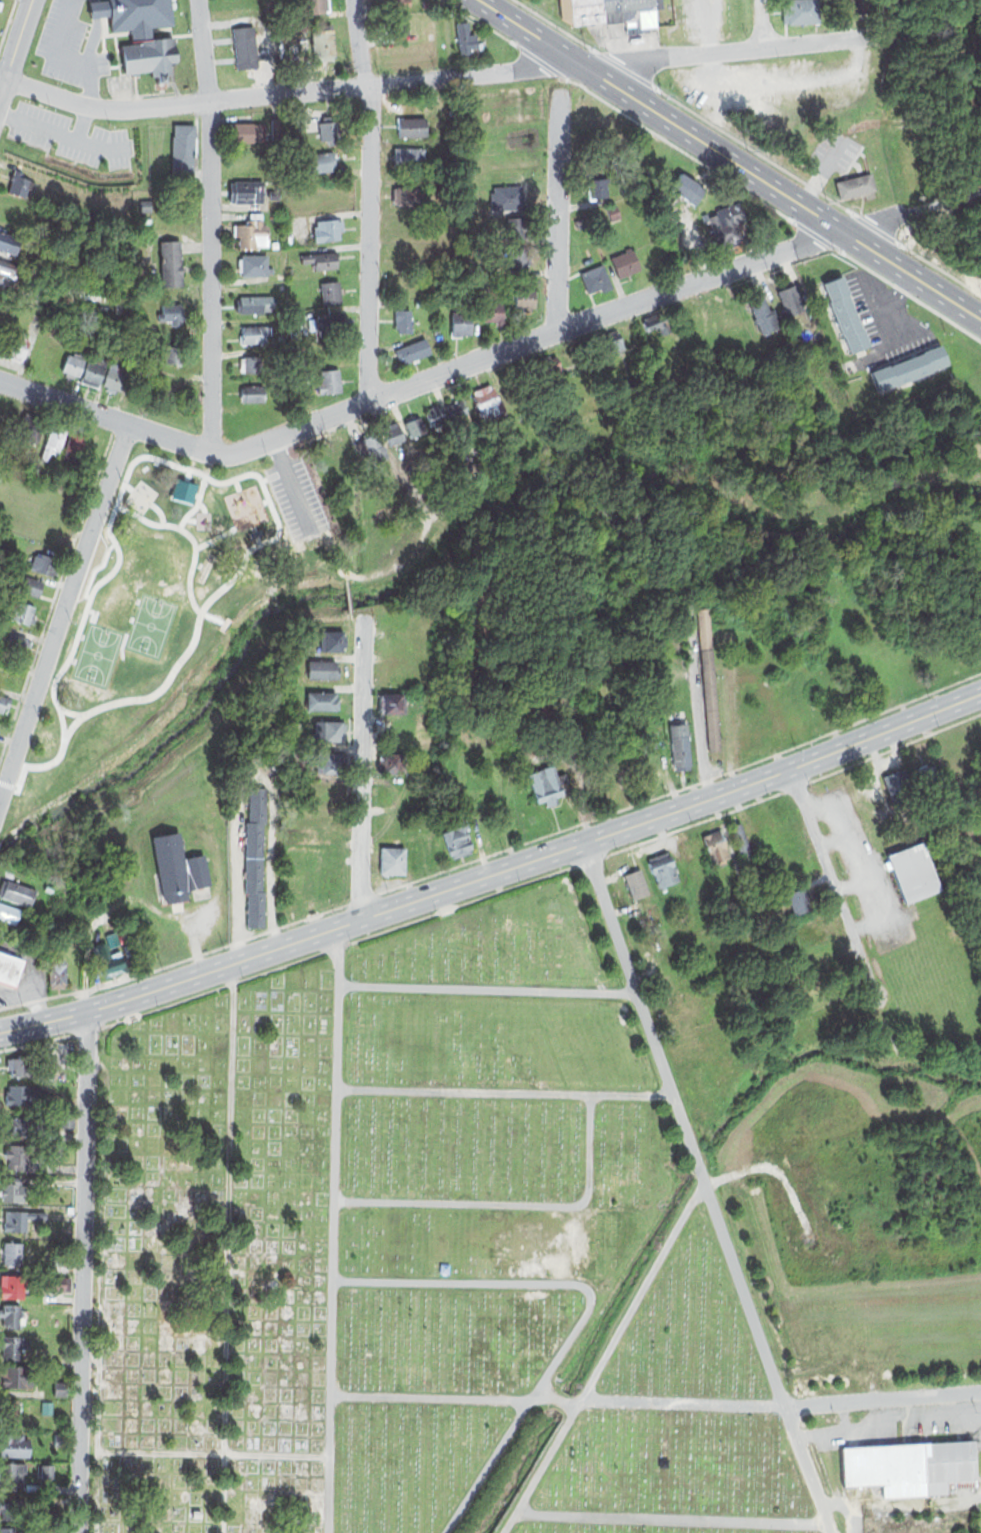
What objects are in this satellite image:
building: (396, 3)
building: (312, 7)
building: (861, 9)
building: (565, 10)
building: (586, 11)
building: (803, 12)
building: (632, 13)
building: (398, 23)
road: (764, 24)
building: (463, 38)
building: (324, 44)
road: (15, 45)
building: (245, 47)
building: (148, 56)
road: (438, 78)
road: (7, 116)
road: (82, 123)
building: (277, 126)
building: (412, 126)
building: (328, 129)
building: (247, 132)
parking lot: (70, 137)
road: (69, 139)
building: (875, 141)
building: (182, 153)
building: (408, 156)
road: (733, 156)
building: (321, 161)
building: (596, 180)
building: (17, 182)
building: (853, 183)
building: (682, 186)
building: (245, 190)
building: (272, 192)
building: (409, 196)
building: (507, 196)
road: (370, 197)
road: (941, 200)
building: (146, 203)
road: (558, 210)
building: (614, 210)
building: (727, 223)
road: (209, 225)
building: (327, 228)
building: (512, 228)
building: (252, 231)
building: (289, 237)
building: (9, 242)
building: (275, 242)
building: (587, 251)
building: (324, 257)
building: (409, 258)
building: (515, 258)
building: (291, 260)
building: (169, 261)
building: (624, 262)
building: (254, 264)
building: (9, 272)
building: (596, 279)
building: (407, 287)
building: (330, 292)
building: (524, 297)
building: (788, 299)
building: (255, 302)
building: (170, 310)
building: (493, 311)
building: (762, 314)
building: (845, 314)
building: (701, 318)
building: (401, 320)
building: (460, 320)
building: (657, 322)
building: (328, 323)
building: (436, 329)
building: (254, 334)
building: (439, 337)
building: (606, 341)
building: (16, 342)
building: (413, 350)
building: (49, 353)
building: (174, 353)
building: (72, 364)
building: (256, 364)
building: (908, 366)
building: (544, 367)
building: (94, 369)
road: (449, 369)
building: (119, 376)
building: (328, 381)
building: (254, 394)
building: (488, 402)
building: (457, 409)
building: (435, 417)
building: (6, 418)
building: (415, 425)
building: (30, 430)
building: (394, 434)
building: (52, 439)
building: (74, 444)
building: (371, 448)
building: (329, 457)
building: (41, 563)
building: (26, 583)
building: (18, 610)
road: (64, 613)
park: (170, 628)
building: (332, 641)
building: (392, 642)
building: (14, 643)
building: (323, 670)
building: (391, 671)
building: (9, 677)
building: (708, 686)
building: (4, 700)
building: (324, 700)
building: (392, 702)
building: (328, 730)
building: (680, 744)
building: (330, 762)
building: (392, 762)
road: (363, 763)
building: (651, 778)
building: (931, 779)
building: (547, 784)
building: (899, 786)
building: (390, 827)
building: (458, 841)
building: (743, 842)
building: (716, 846)
building: (693, 853)
building: (255, 855)
building: (393, 860)
building: (177, 867)
building: (662, 869)
building: (914, 871)
road: (493, 872)
road: (834, 880)
building: (636, 884)
building: (18, 892)
building: (798, 900)
building: (64, 906)
building: (13, 915)
road: (340, 944)
building: (816, 949)
building: (107, 959)
building: (10, 968)
building: (56, 975)
road: (489, 988)
building: (831, 996)
building: (25, 1090)
road: (506, 1092)
building: (66, 1119)
building: (17, 1123)
road: (686, 1124)
building: (17, 1156)
building: (13, 1191)
road: (512, 1203)
building: (69, 1209)
building: (19, 1219)
road: (334, 1230)
road: (227, 1248)
building: (13, 1252)
park: (417, 1252)
building: (60, 1262)
road: (82, 1272)
building: (57, 1284)
building: (10, 1286)
road: (100, 1288)
road: (590, 1304)
building: (12, 1315)
building: (13, 1341)
road: (604, 1357)
building: (15, 1374)
building: (60, 1388)
road: (882, 1399)
road: (558, 1400)
building: (11, 1410)
building: (60, 1440)
building: (15, 1444)
road: (214, 1453)
building: (950, 1464)
building: (887, 1467)
road: (806, 1470)
building: (46, 1471)
building: (12, 1474)
building: (31, 1486)
road: (669, 1518)
building: (8, 1519)

